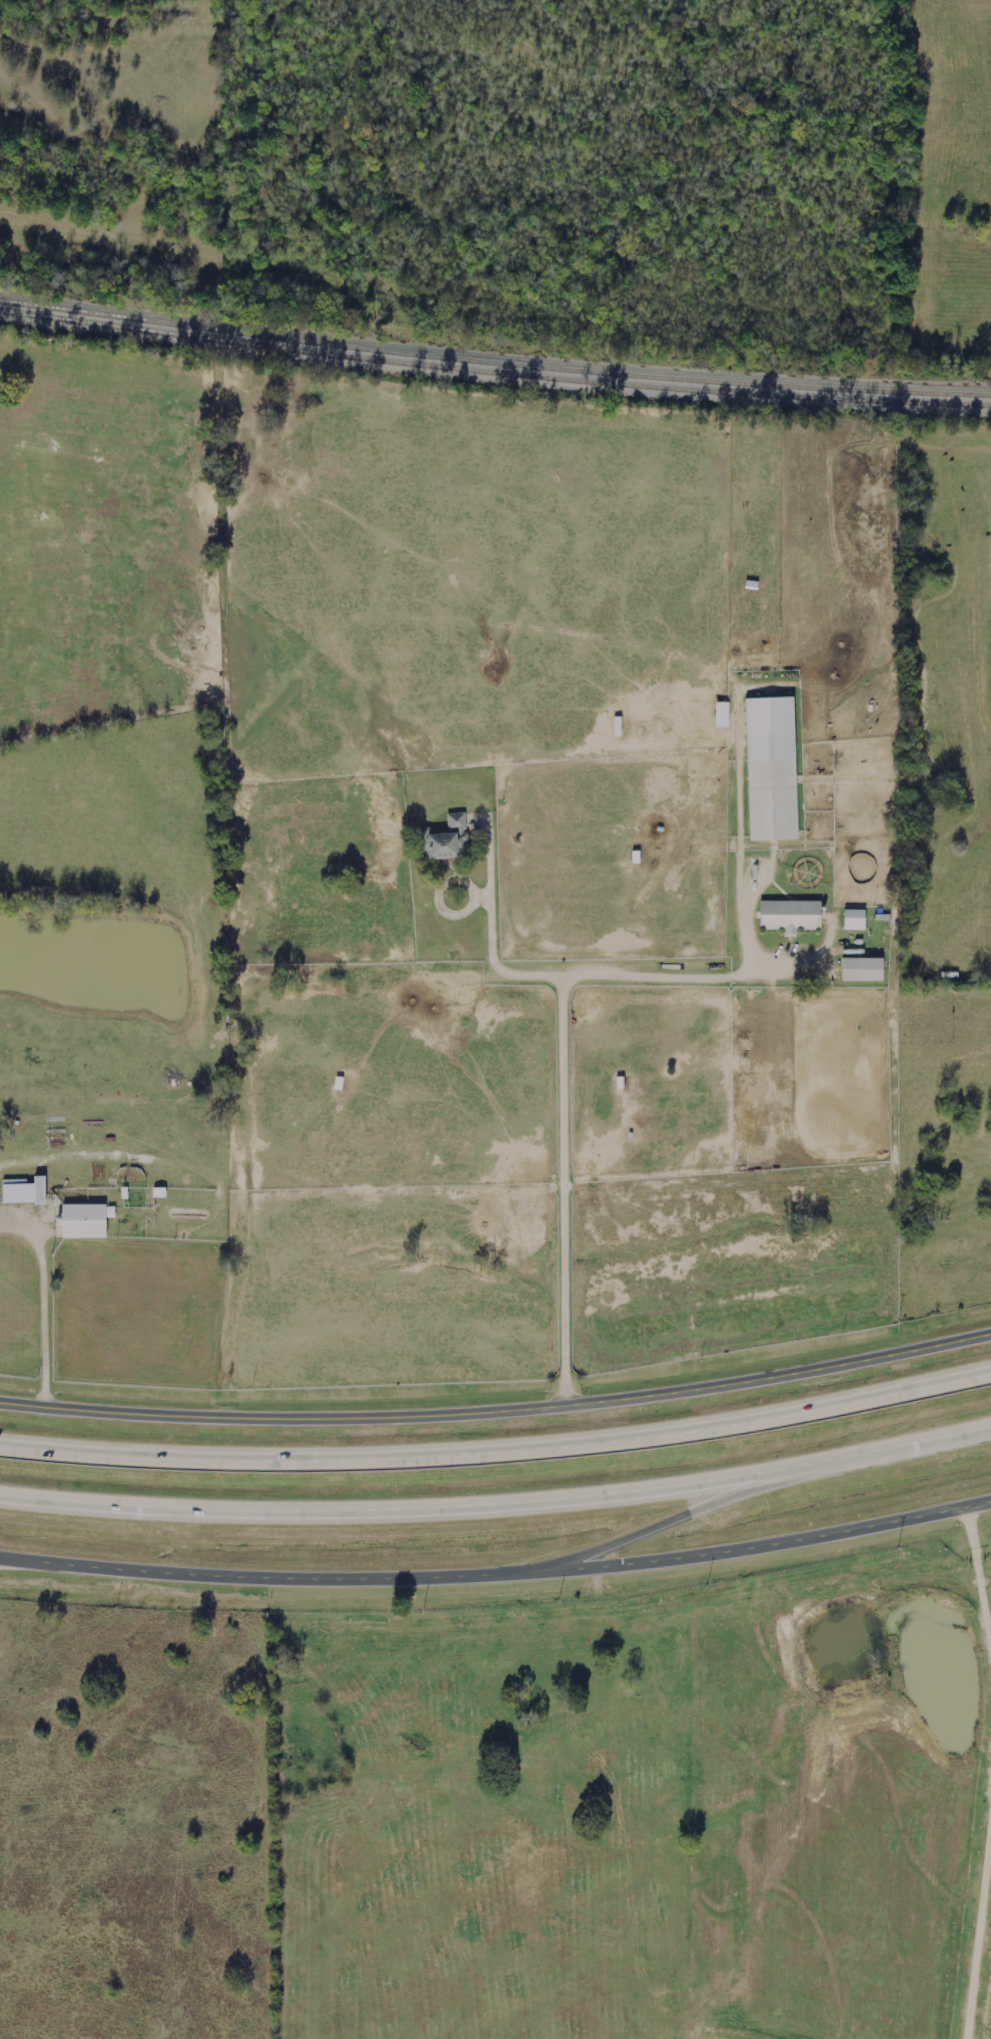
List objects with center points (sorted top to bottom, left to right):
railway: (494, 365)
railway: (494, 377)
building: (446, 842)
building: (789, 917)
building: (854, 921)
building: (861, 971)
road: (664, 978)
road: (566, 1084)
building: (24, 1193)
building: (85, 1221)
road: (51, 1298)
road: (498, 1406)
road: (498, 1445)
road: (497, 1498)
road: (693, 1511)
road: (758, 1545)
road: (260, 1578)

